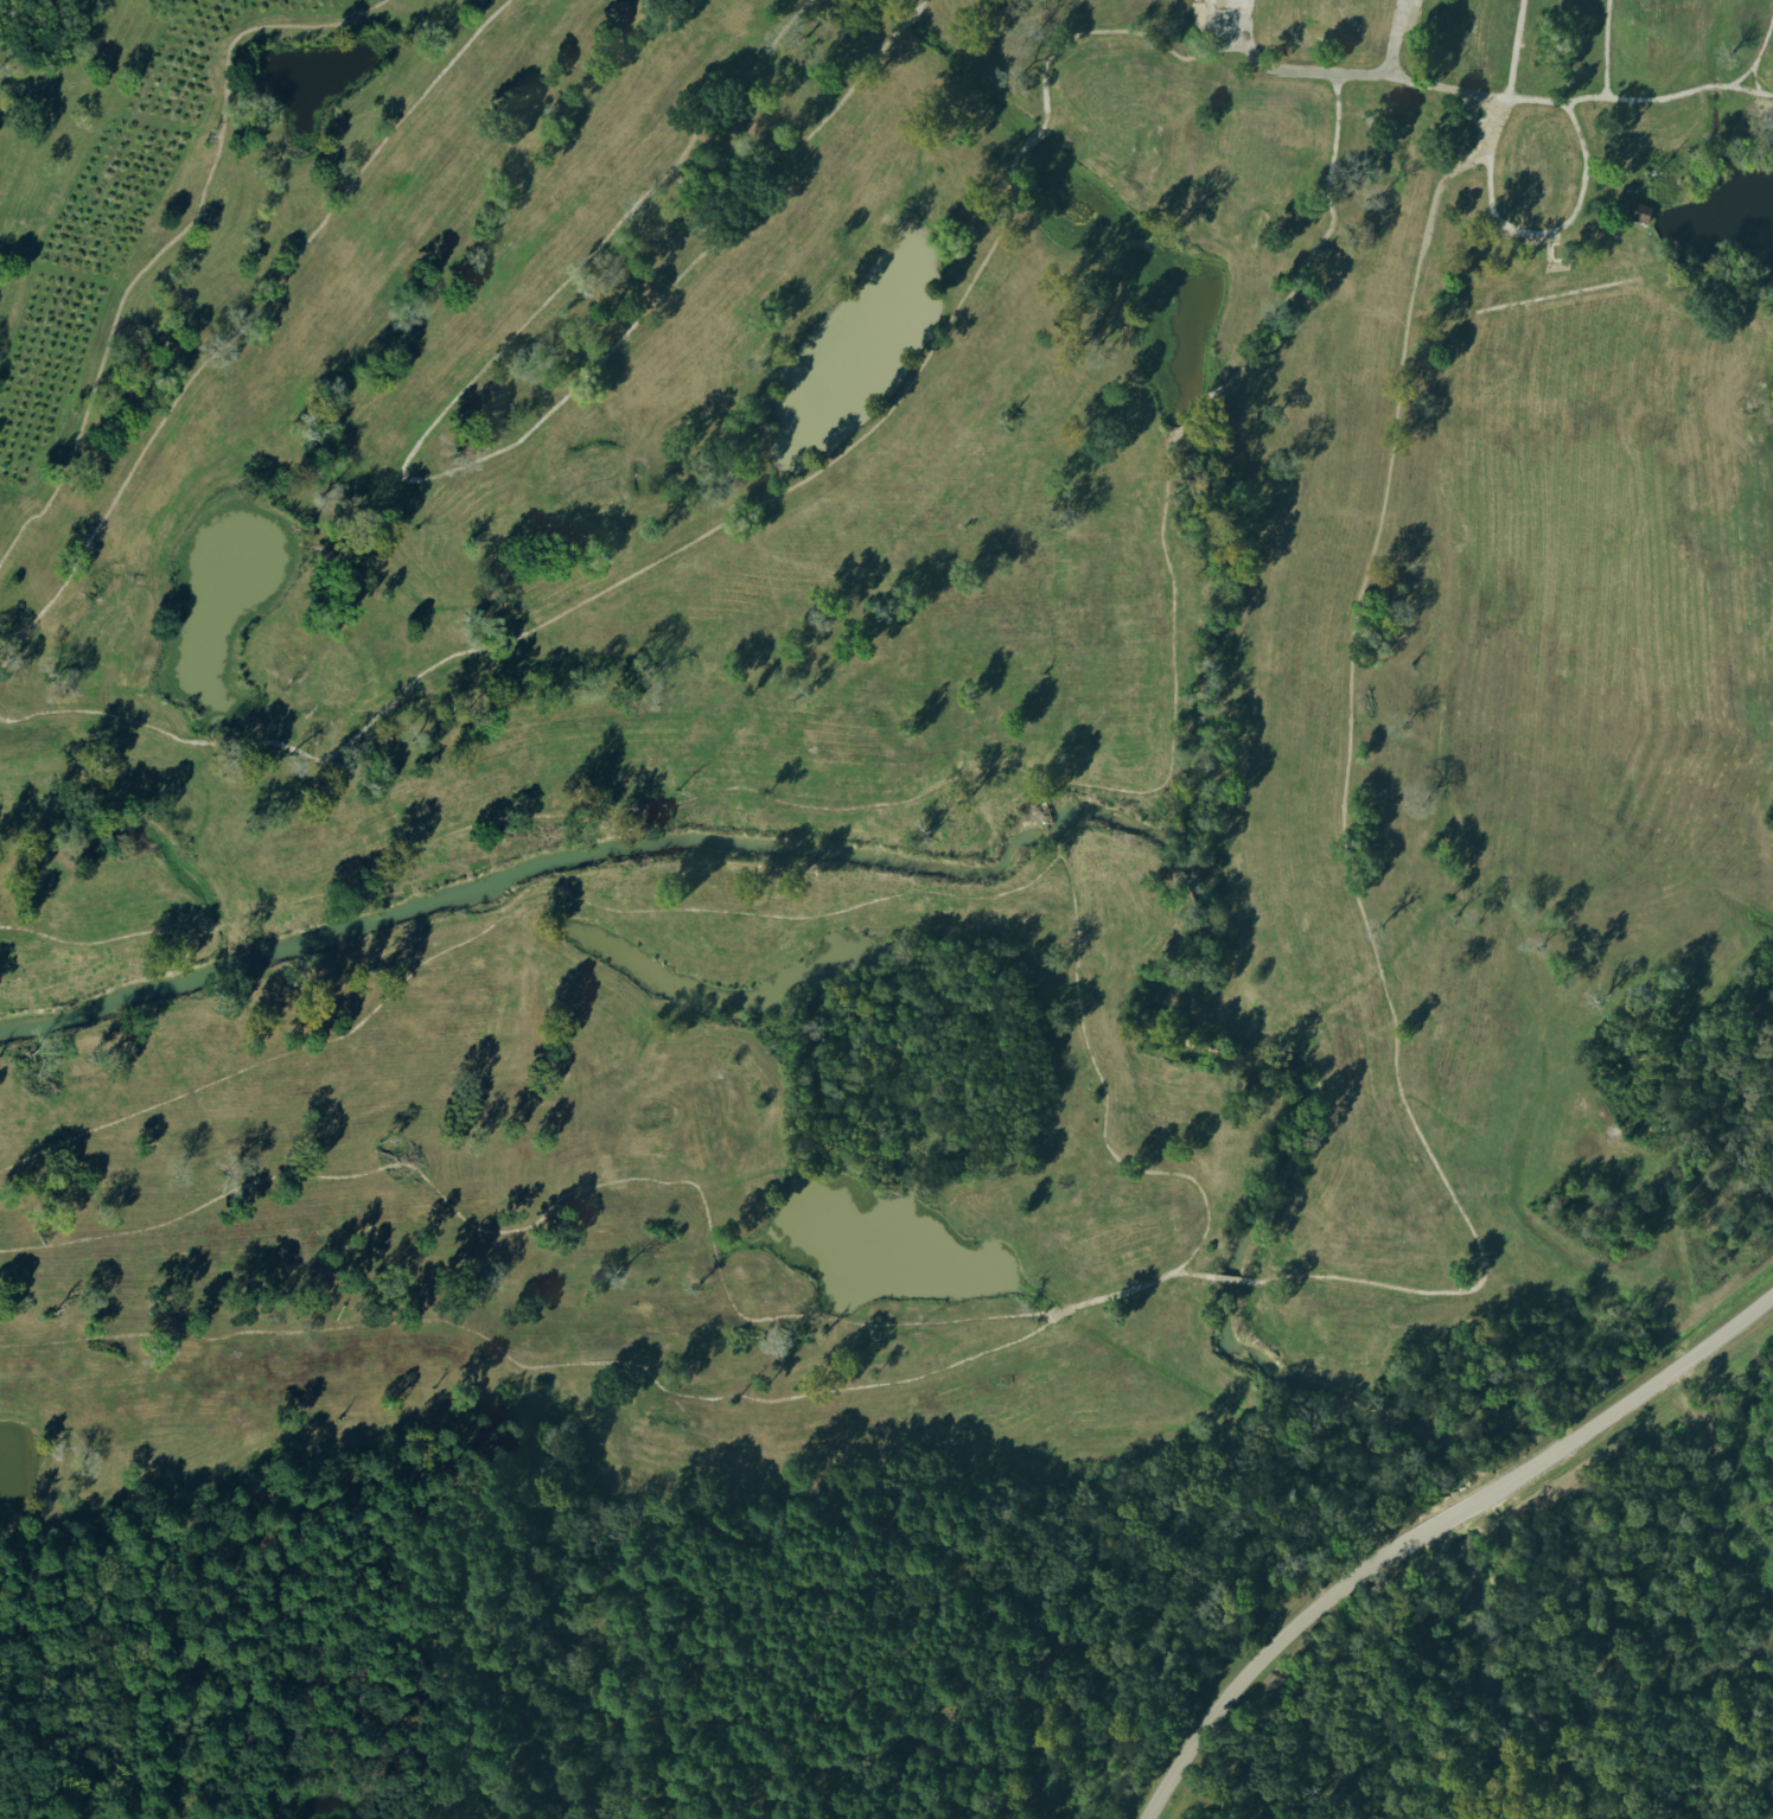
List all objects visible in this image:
road: (923, 1)
park: (1650, 5)
building: (1314, 18)
road: (906, 20)
road: (1112, 30)
road: (1762, 43)
road: (1513, 47)
road: (1431, 53)
road: (1607, 70)
road: (1325, 71)
road: (1756, 84)
road: (1442, 85)
road: (1747, 91)
road: (1682, 92)
road: (1761, 107)
park: (1106, 110)
road: (1593, 117)
road: (1473, 121)
road: (1032, 139)
building: (1467, 141)
park: (1538, 167)
park: (1246, 175)
building: (1639, 211)
road: (1597, 229)
road: (1558, 230)
road: (174, 238)
road: (1320, 242)
road: (1653, 248)
building: (1557, 250)
road: (1646, 264)
road: (241, 327)
road: (1198, 413)
road: (425, 477)
park: (587, 479)
road: (589, 596)
park: (115, 617)
park: (332, 676)
road: (1174, 689)
park: (855, 719)
park: (846, 736)
road: (627, 808)
road: (1046, 817)
road: (1342, 837)
road: (510, 905)
park: (886, 909)
road: (221, 924)
road: (106, 939)
river: (866, 1094)
road: (1105, 1102)
park: (696, 1122)
road: (362, 1173)
road: (697, 1189)
park: (1356, 1199)
road: (706, 1219)
park: (1127, 1232)
road: (714, 1252)
road: (1222, 1276)
road: (872, 1323)
road: (601, 1361)
road: (484, 1408)
park: (658, 1445)
river: (1460, 1511)
road: (1433, 1532)
river: (1548, 1723)

